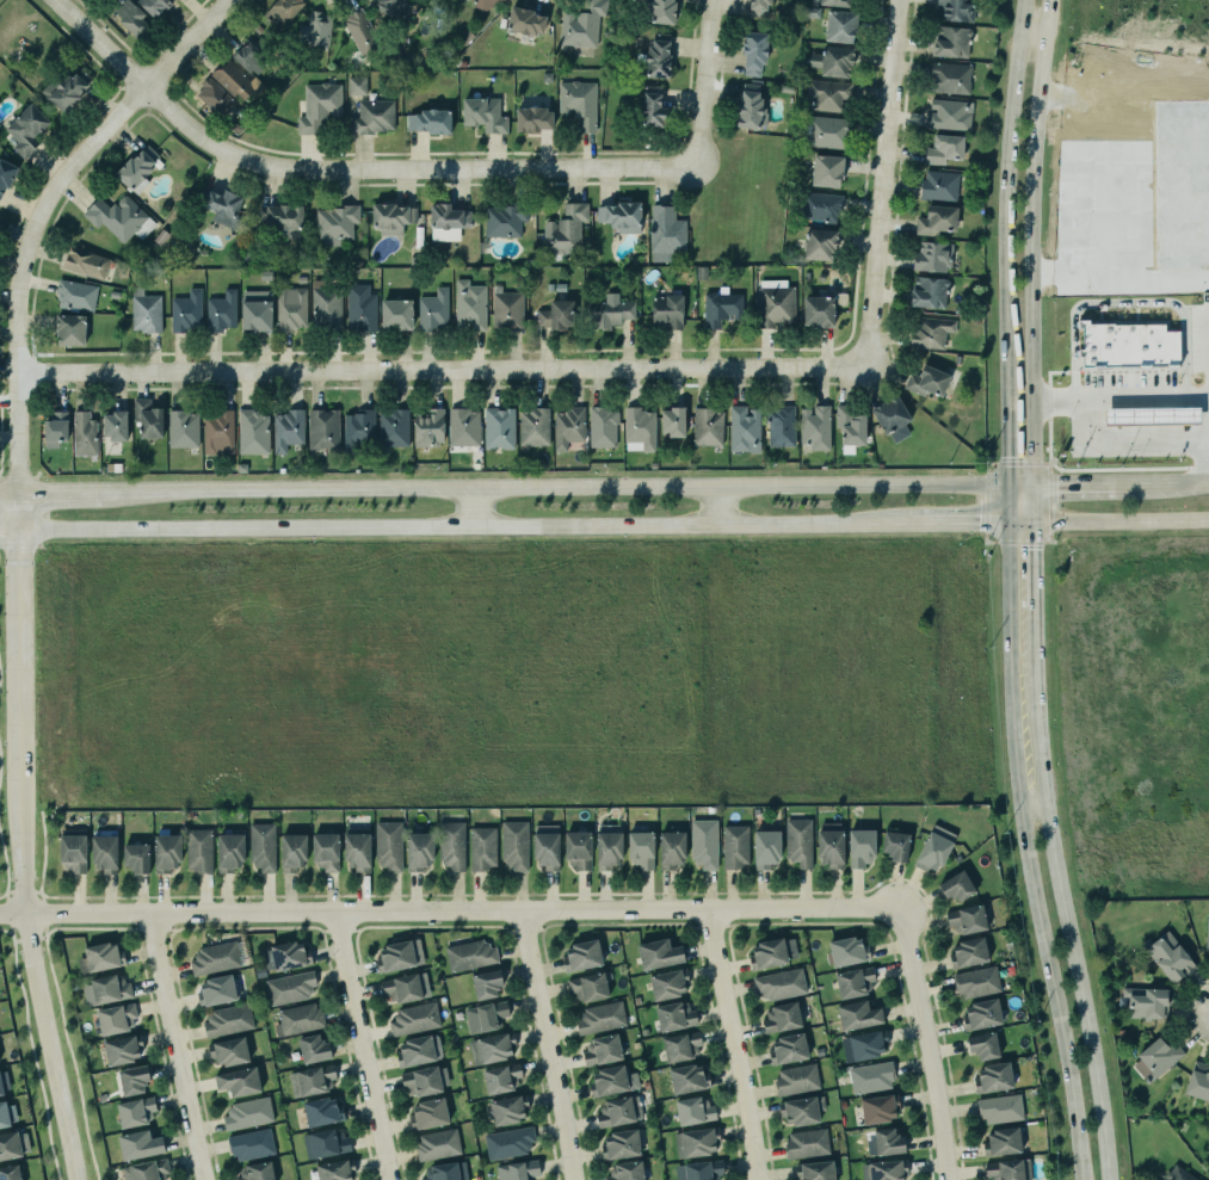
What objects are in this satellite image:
building: (838, 2)
building: (485, 4)
building: (155, 6)
building: (393, 7)
building: (759, 7)
building: (955, 8)
building: (283, 11)
building: (664, 11)
building: (130, 17)
building: (523, 20)
building: (581, 24)
building: (839, 25)
building: (360, 31)
road: (1035, 35)
building: (951, 42)
building: (752, 51)
building: (251, 57)
building: (656, 58)
building: (832, 61)
building: (950, 76)
building: (233, 79)
road: (699, 84)
building: (357, 86)
building: (64, 88)
building: (826, 93)
building: (211, 94)
road: (1125, 99)
building: (576, 101)
building: (319, 106)
building: (652, 106)
building: (750, 110)
building: (483, 112)
building: (946, 113)
building: (374, 117)
building: (533, 118)
building: (428, 121)
building: (26, 129)
building: (824, 130)
building: (942, 148)
road: (1104, 148)
building: (137, 168)
road: (343, 169)
building: (827, 171)
building: (5, 175)
road: (875, 181)
building: (1180, 184)
building: (939, 185)
road: (1080, 189)
road: (1128, 191)
road: (1104, 192)
road: (1008, 200)
building: (222, 206)
building: (820, 206)
road: (42, 209)
building: (390, 214)
building: (621, 214)
building: (115, 216)
building: (446, 216)
building: (280, 218)
building: (502, 218)
building: (937, 221)
building: (335, 223)
building: (566, 229)
building: (666, 233)
road: (1104, 236)
road: (1034, 241)
building: (820, 245)
building: (932, 257)
building: (86, 262)
road: (1119, 284)
building: (927, 291)
building: (74, 294)
road: (1125, 302)
building: (776, 303)
building: (469, 305)
building: (326, 307)
building: (291, 308)
building: (360, 308)
building: (721, 308)
building: (507, 309)
building: (184, 310)
building: (255, 310)
building: (434, 310)
building: (666, 310)
building: (818, 310)
building: (144, 311)
building: (222, 311)
building: (610, 311)
building: (395, 313)
building: (555, 314)
building: (68, 329)
building: (931, 332)
building: (1124, 344)
road: (436, 369)
building: (927, 381)
road: (1121, 396)
building: (1148, 414)
building: (148, 418)
building: (893, 418)
building: (671, 421)
building: (113, 425)
building: (849, 425)
building: (533, 426)
building: (567, 426)
building: (708, 426)
building: (741, 426)
building: (781, 426)
building: (814, 426)
building: (394, 427)
building: (430, 427)
building: (463, 427)
building: (499, 427)
building: (603, 427)
building: (56, 428)
building: (183, 428)
building: (357, 428)
building: (637, 428)
building: (288, 430)
building: (321, 430)
building: (216, 431)
building: (251, 432)
building: (82, 433)
road: (1130, 444)
traffic signals: (1004, 453)
road: (1004, 463)
traffic signals: (1054, 484)
road: (1057, 484)
road: (1161, 484)
road: (861, 486)
road: (413, 487)
road: (10, 488)
road: (64, 488)
road: (470, 506)
road: (717, 506)
road: (1121, 520)
traffic signals: (974, 524)
road: (975, 524)
road: (468, 525)
road: (10, 527)
road: (1035, 546)
traffic signals: (1036, 548)
road: (21, 836)
building: (798, 841)
building: (704, 844)
building: (389, 845)
building: (452, 845)
building: (514, 845)
building: (263, 846)
building: (609, 846)
building: (735, 846)
building: (896, 846)
building: (70, 847)
building: (480, 847)
building: (828, 847)
building: (861, 847)
building: (103, 848)
building: (164, 848)
building: (641, 848)
building: (766, 848)
building: (934, 848)
building: (199, 850)
building: (417, 850)
building: (544, 850)
building: (576, 850)
building: (672, 850)
building: (230, 852)
building: (290, 852)
building: (323, 852)
building: (356, 852)
road: (1028, 853)
building: (135, 858)
building: (955, 886)
road: (1071, 895)
road: (450, 910)
building: (966, 919)
building: (1207, 941)
building: (396, 951)
building: (849, 951)
building: (771, 952)
building: (967, 953)
building: (470, 954)
building: (656, 954)
building: (285, 956)
building: (580, 956)
building: (1170, 957)
building: (98, 958)
building: (215, 958)
building: (975, 981)
building: (855, 982)
building: (668, 983)
building: (781, 983)
building: (485, 984)
building: (587, 986)
building: (406, 987)
building: (109, 988)
building: (290, 988)
building: (214, 990)
building: (1146, 1002)
building: (981, 1014)
building: (676, 1015)
building: (856, 1015)
building: (483, 1017)
building: (781, 1017)
building: (117, 1018)
building: (413, 1018)
building: (599, 1018)
building: (298, 1019)
building: (228, 1020)
building: (679, 1042)
road: (931, 1042)
road: (738, 1043)
road: (550, 1044)
road: (359, 1045)
building: (861, 1045)
road: (29, 1046)
road: (67, 1046)
road: (174, 1046)
building: (982, 1046)
building: (492, 1048)
building: (314, 1049)
building: (788, 1049)
building: (121, 1050)
building: (419, 1050)
building: (600, 1050)
building: (227, 1051)
building: (1154, 1057)
building: (870, 1075)
building: (501, 1077)
building: (993, 1077)
building: (686, 1079)
building: (795, 1079)
building: (134, 1080)
building: (311, 1080)
building: (2, 1081)
building: (239, 1081)
building: (421, 1081)
building: (611, 1081)
building: (1198, 1081)
building: (999, 1107)
building: (877, 1108)
building: (508, 1110)
building: (693, 1110)
building: (245, 1111)
building: (322, 1111)
building: (617, 1111)
building: (798, 1111)
building: (134, 1112)
building: (7, 1113)
building: (427, 1113)
building: (508, 1139)
building: (693, 1142)
building: (888, 1142)
building: (1001, 1142)
building: (326, 1143)
building: (804, 1143)
building: (1208, 1143)
building: (14, 1144)
building: (252, 1144)
building: (438, 1144)
building: (618, 1144)
building: (137, 1145)
building: (335, 1169)
building: (1007, 1169)
building: (147, 1170)
building: (518, 1170)
building: (624, 1170)
building: (699, 1170)
building: (814, 1170)
building: (881, 1170)
building: (257, 1172)
building: (446, 1172)
building: (10, 1173)
building: (1176, 1174)

